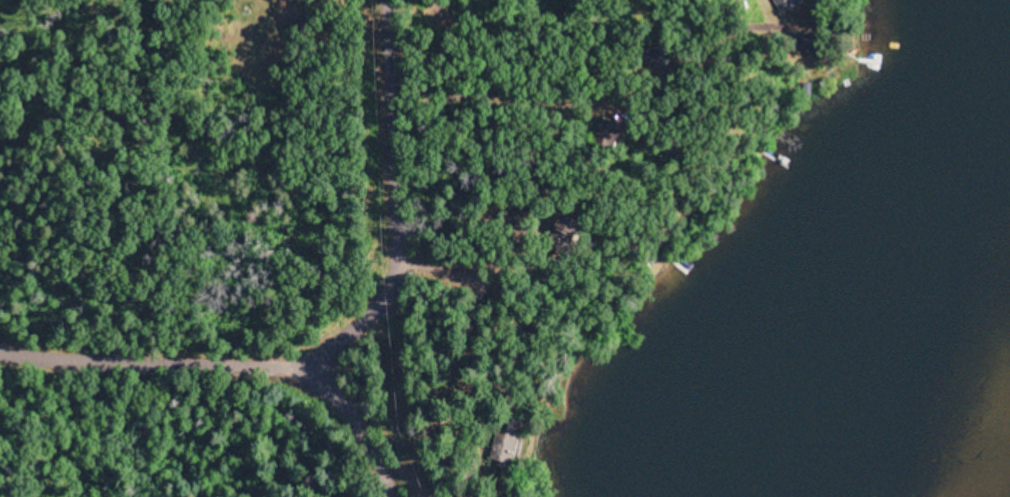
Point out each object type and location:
road: (374, 208)
road: (198, 355)
road: (369, 369)
road: (364, 472)

